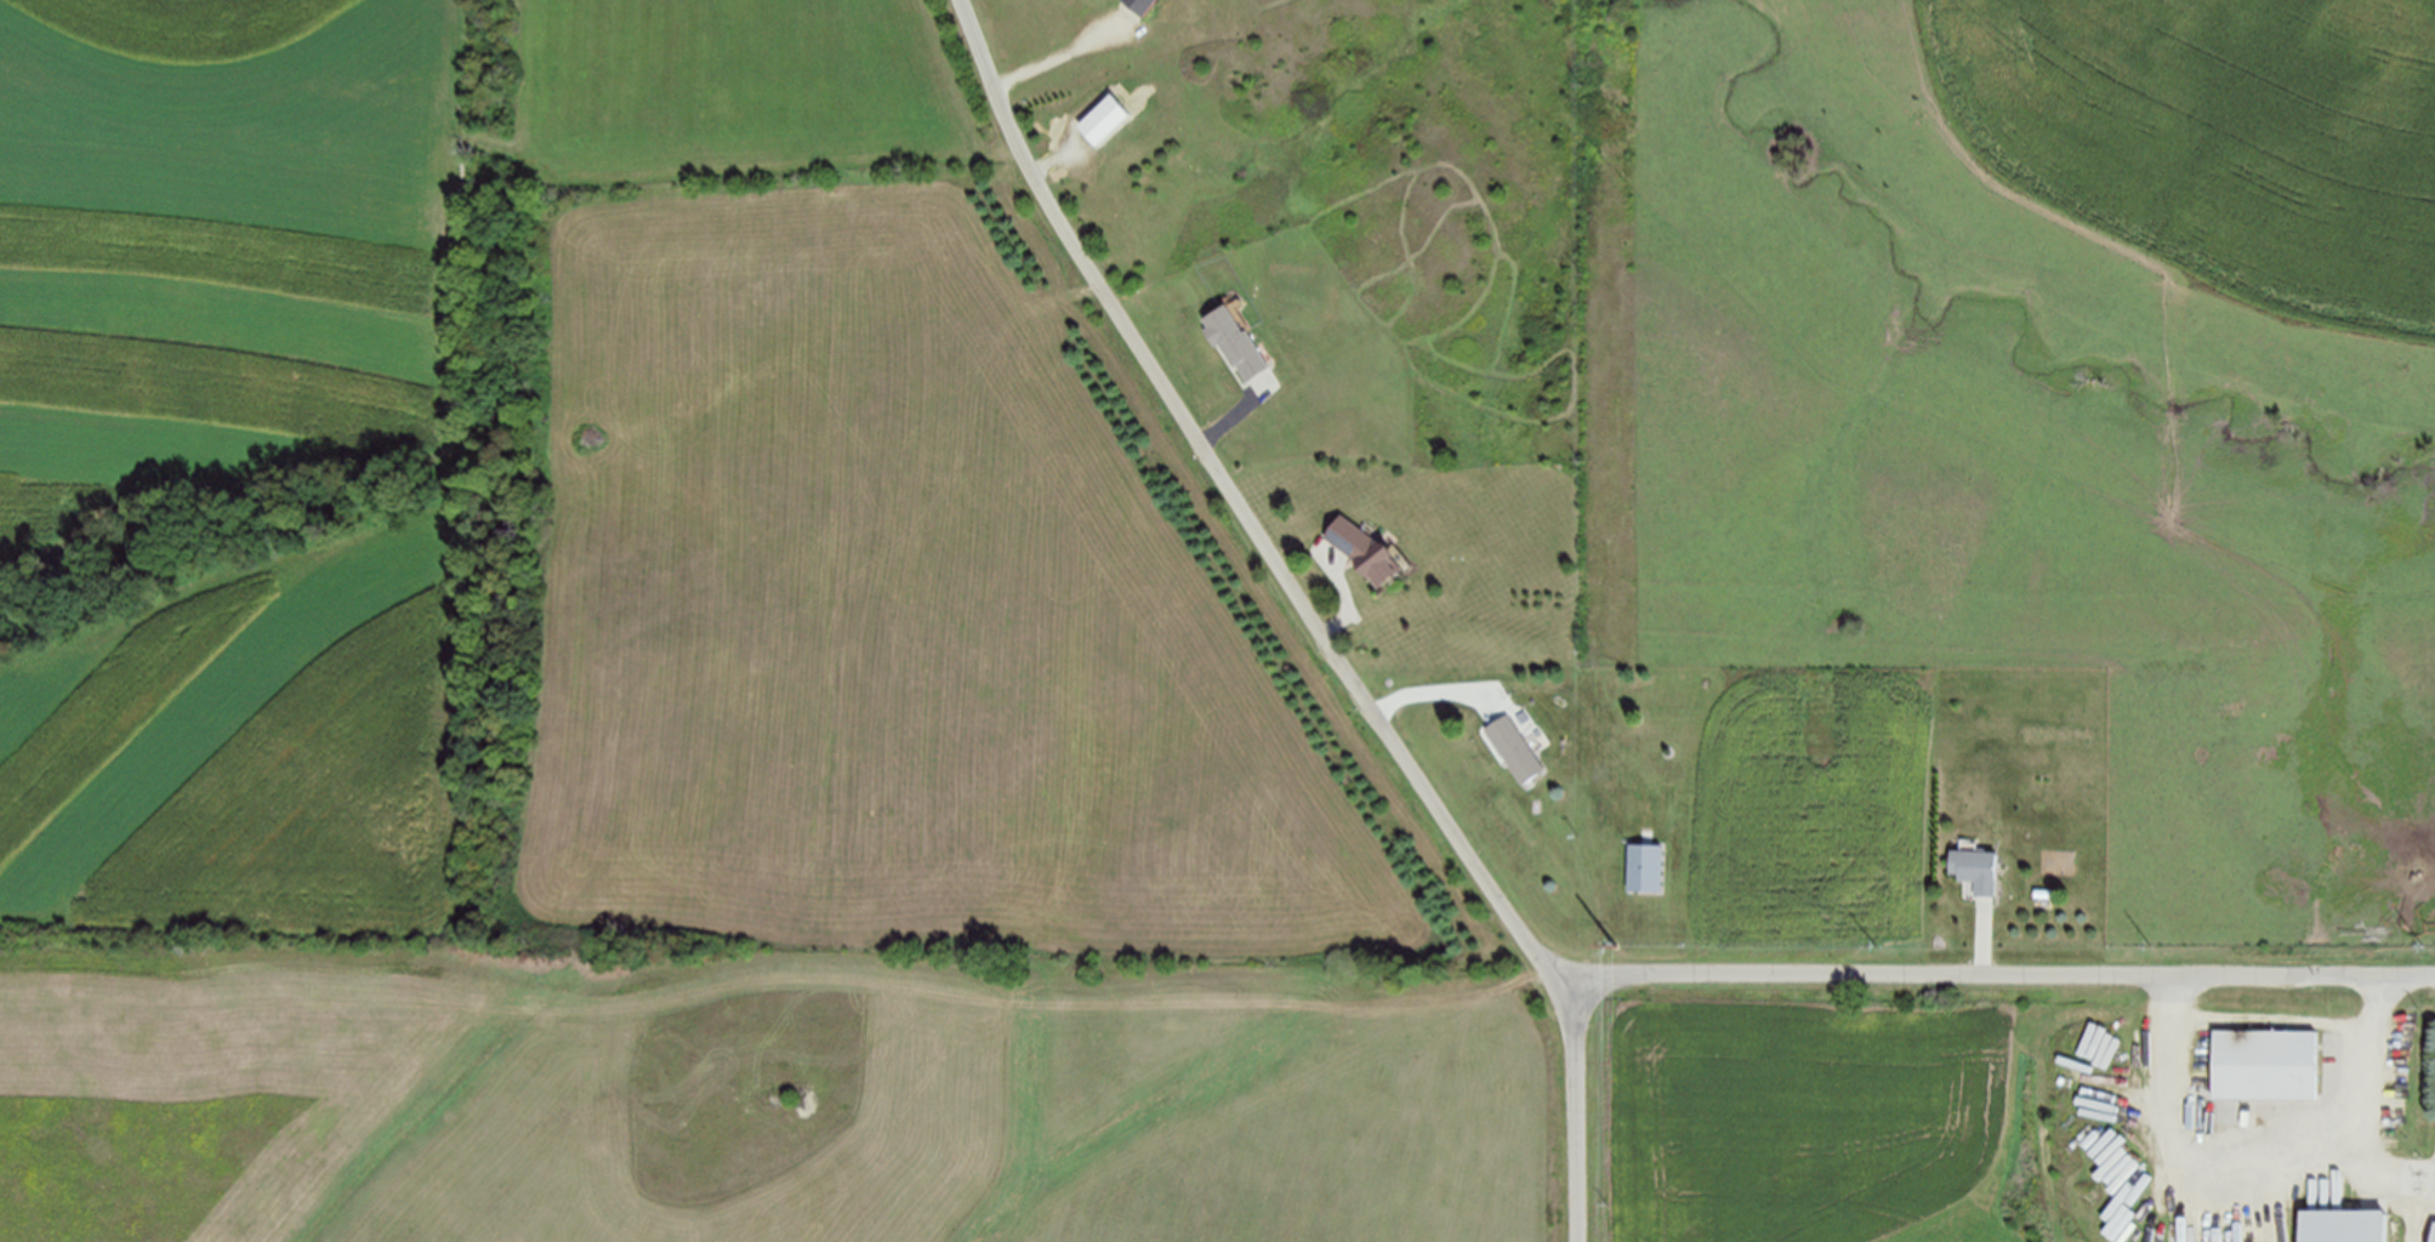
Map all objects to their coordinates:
building: (1139, 6)
road: (1062, 52)
building: (1100, 119)
road: (1058, 163)
building: (1234, 343)
road: (1234, 411)
road: (1247, 514)
building: (1361, 549)
road: (1349, 592)
road: (1436, 690)
building: (1514, 748)
building: (1645, 866)
building: (1976, 868)
road: (1984, 936)
road: (1881, 972)
building: (2265, 1062)
road: (2271, 1150)
road: (2423, 1209)
building: (2343, 1227)
building: (2434, 1234)

